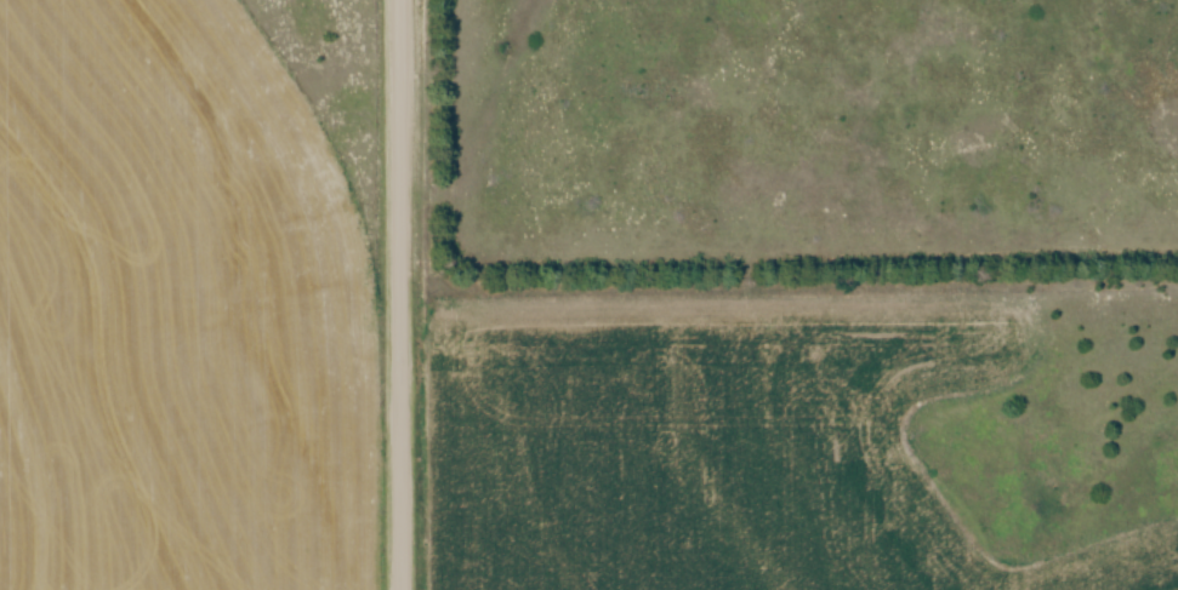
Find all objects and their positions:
road: (402, 294)

